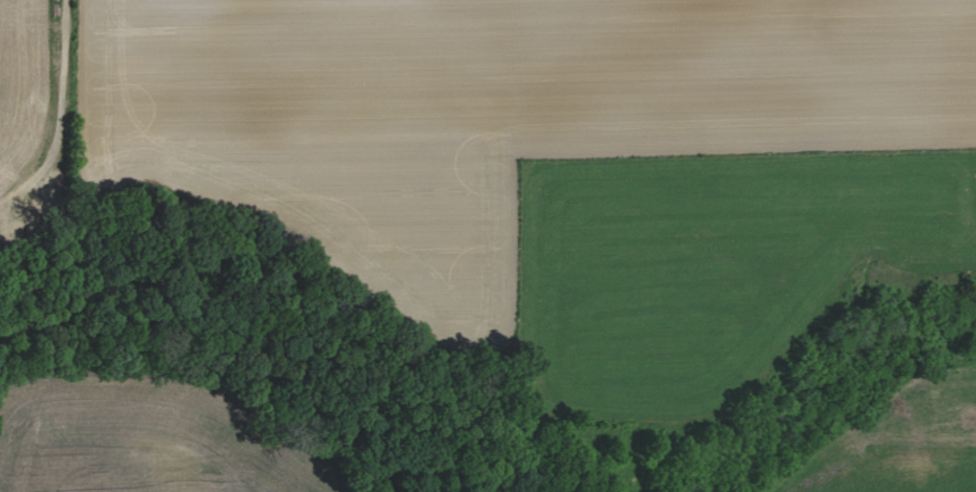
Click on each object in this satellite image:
road: (64, 91)

